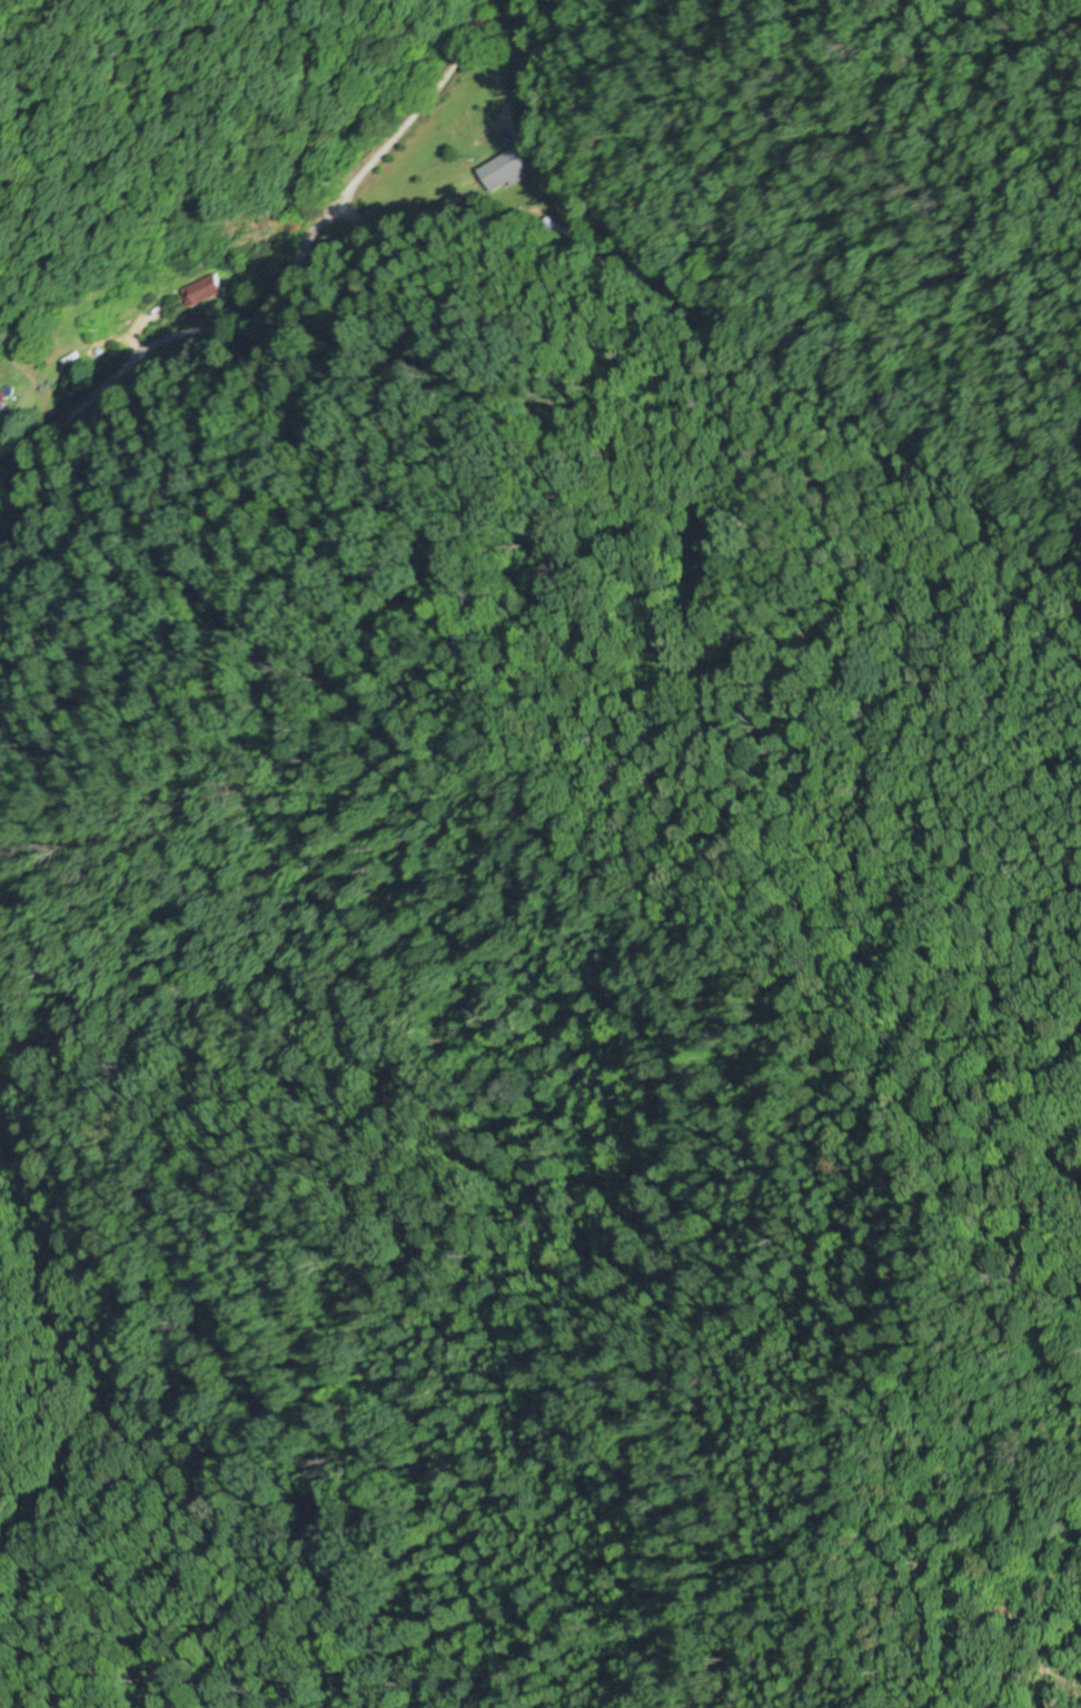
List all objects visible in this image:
road: (290, 269)

